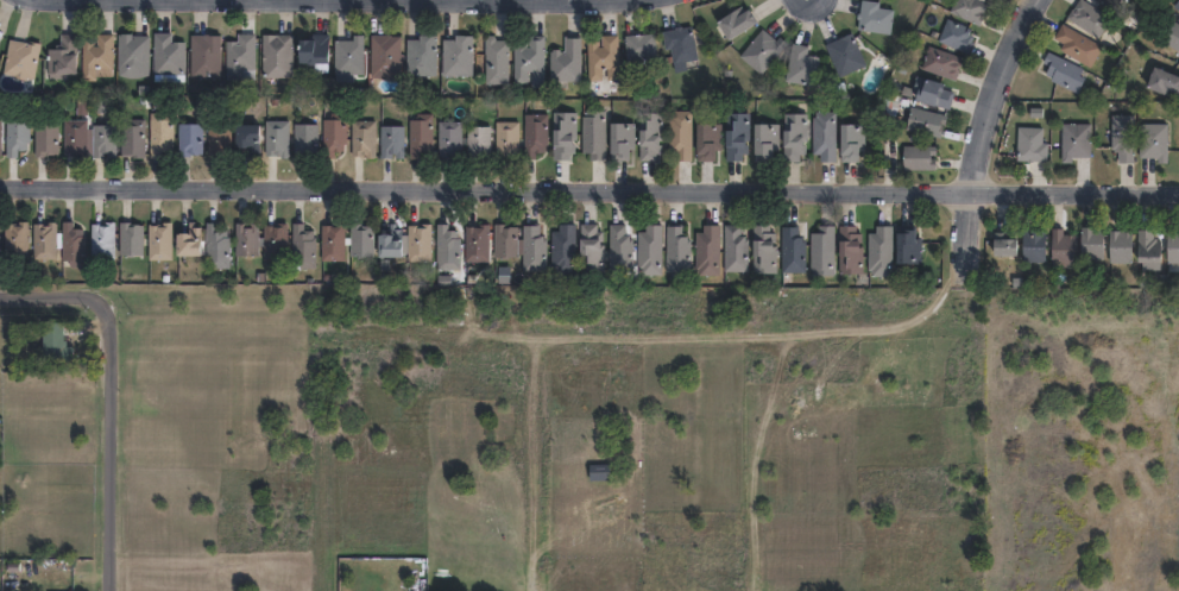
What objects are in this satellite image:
building: (1109, 4)
building: (1177, 5)
road: (342, 6)
building: (971, 10)
building: (876, 17)
building: (1090, 18)
building: (737, 21)
building: (957, 36)
building: (1173, 36)
building: (0, 43)
building: (1079, 45)
building: (641, 46)
building: (682, 48)
building: (133, 51)
building: (763, 51)
building: (315, 52)
building: (169, 55)
building: (847, 55)
building: (96, 56)
building: (206, 56)
building: (277, 56)
building: (349, 56)
building: (385, 56)
building: (421, 56)
building: (458, 56)
building: (62, 57)
building: (605, 57)
building: (241, 58)
building: (21, 59)
building: (497, 61)
building: (530, 61)
building: (568, 61)
building: (944, 63)
building: (802, 65)
building: (1065, 73)
building: (1165, 81)
building: (933, 92)
road: (996, 94)
building: (927, 121)
building: (17, 132)
building: (334, 134)
building: (536, 134)
building: (594, 134)
building: (681, 134)
building: (246, 136)
building: (565, 136)
building: (650, 136)
building: (737, 136)
building: (795, 136)
building: (826, 136)
building: (160, 137)
building: (421, 137)
building: (1124, 137)
building: (0, 138)
building: (74, 138)
building: (133, 138)
building: (190, 138)
building: (277, 138)
building: (364, 138)
building: (449, 138)
building: (768, 138)
building: (220, 139)
building: (507, 139)
building: (45, 140)
building: (103, 140)
building: (307, 140)
building: (622, 140)
building: (708, 140)
building: (853, 140)
building: (1155, 140)
building: (392, 142)
building: (478, 142)
building: (1076, 142)
building: (1033, 146)
building: (920, 157)
road: (589, 193)
road: (964, 234)
building: (131, 239)
building: (31, 240)
building: (261, 240)
building: (361, 240)
building: (477, 240)
building: (102, 241)
building: (160, 241)
building: (505, 241)
building: (187, 243)
building: (332, 243)
building: (390, 243)
building: (420, 243)
building: (447, 244)
building: (1092, 244)
building: (72, 245)
building: (1005, 245)
building: (216, 246)
building: (1035, 246)
building: (1174, 246)
building: (304, 247)
building: (909, 247)
building: (1063, 247)
building: (565, 249)
building: (591, 249)
building: (620, 249)
building: (534, 250)
building: (651, 250)
building: (736, 250)
building: (764, 250)
building: (851, 250)
building: (679, 251)
building: (708, 251)
building: (794, 251)
building: (824, 251)
building: (882, 251)
building: (1150, 253)
road: (55, 300)
building: (53, 342)
road: (778, 366)
road: (112, 446)
road: (535, 528)

